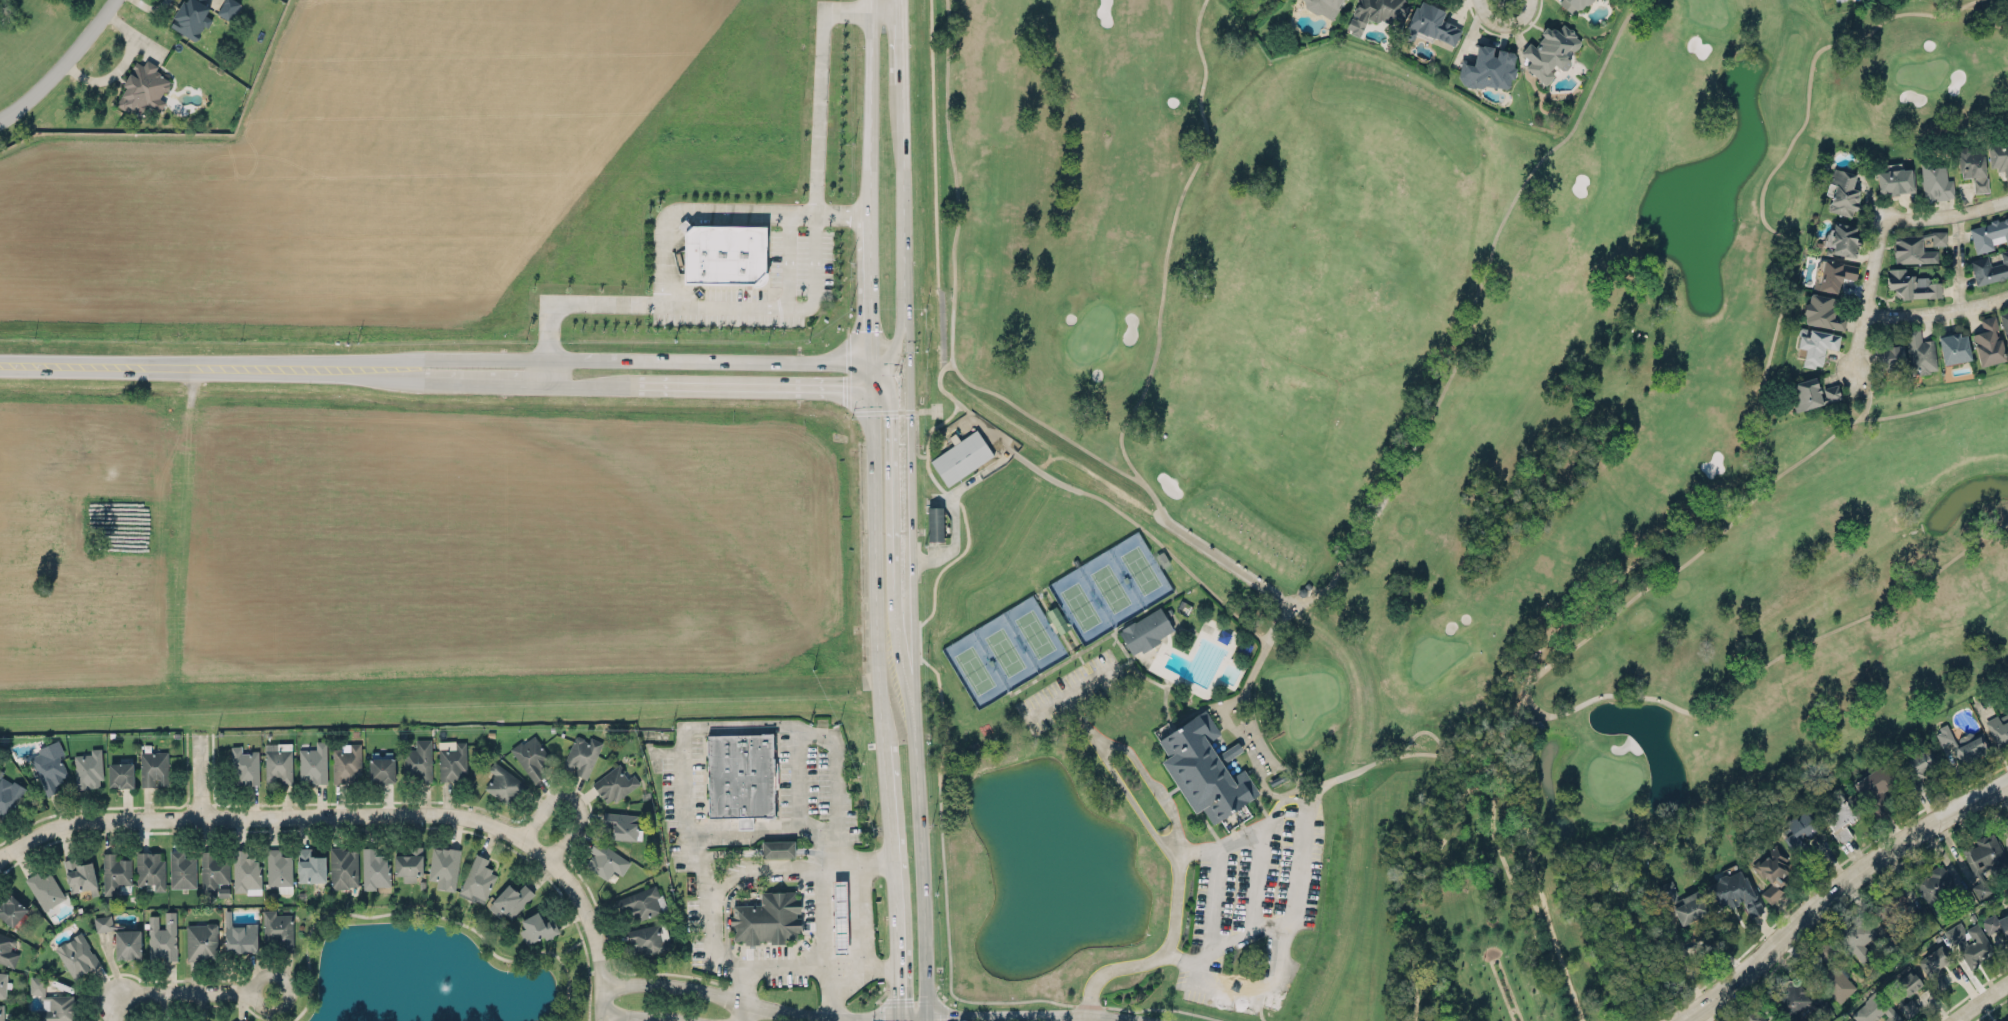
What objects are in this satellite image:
building: (203, 0)
road: (882, 3)
building: (1574, 4)
building: (1323, 7)
building: (227, 8)
building: (1377, 13)
building: (191, 18)
road: (1504, 24)
building: (1432, 25)
road: (902, 34)
building: (1549, 51)
road: (61, 65)
building: (1488, 69)
building: (144, 88)
road: (819, 93)
road: (869, 108)
building: (1998, 156)
building: (1972, 166)
building: (1895, 179)
road: (955, 181)
building: (1935, 181)
road: (903, 190)
building: (1841, 192)
road: (1983, 206)
road: (685, 214)
road: (871, 233)
building: (1988, 234)
building: (1842, 239)
road: (1167, 243)
building: (1916, 247)
building: (722, 253)
road: (1874, 255)
parking lot: (800, 260)
road: (1957, 260)
building: (1989, 269)
road: (815, 272)
building: (1834, 276)
building: (1911, 285)
road: (720, 305)
road: (1936, 311)
building: (1822, 312)
road: (871, 313)
road: (905, 322)
road: (901, 323)
road: (1775, 325)
building: (2005, 326)
traffic signals: (872, 330)
building: (1989, 343)
building: (1816, 345)
building: (1953, 347)
building: (1919, 352)
building: (1888, 356)
road: (585, 357)
road: (891, 358)
road: (752, 360)
road: (272, 367)
road: (589, 386)
road: (757, 389)
traffic signals: (842, 391)
building: (1812, 393)
road: (1909, 410)
road: (1431, 411)
traffic signals: (909, 416)
traffic signals: (889, 417)
road: (1065, 436)
building: (961, 457)
park: (1404, 479)
road: (910, 510)
road: (891, 513)
building: (934, 523)
road: (873, 559)
park: (1140, 569)
park: (1109, 587)
park: (1080, 605)
building: (1057, 619)
building: (1145, 630)
park: (1034, 633)
park: (1004, 651)
park: (973, 669)
road: (906, 673)
road: (1072, 691)
road: (1577, 704)
building: (1526, 719)
road: (737, 724)
building: (1999, 728)
building: (1961, 745)
building: (581, 753)
road: (1404, 754)
building: (530, 757)
building: (418, 759)
building: (452, 761)
building: (278, 762)
building: (313, 762)
building: (346, 762)
building: (245, 764)
building: (49, 765)
building: (153, 766)
road: (836, 766)
building: (1918, 766)
building: (1200, 767)
building: (381, 768)
building: (88, 769)
building: (120, 774)
road: (203, 775)
building: (740, 776)
road: (1117, 776)
building: (504, 783)
building: (614, 784)
road: (1151, 784)
building: (1874, 785)
road: (1470, 788)
building: (9, 795)
road: (571, 801)
road: (1297, 810)
building: (1842, 815)
road: (273, 816)
building: (2006, 821)
building: (621, 822)
building: (1798, 825)
road: (752, 832)
building: (777, 848)
road: (942, 849)
road: (919, 854)
road: (1530, 858)
building: (1983, 859)
building: (605, 860)
building: (408, 863)
building: (310, 866)
building: (343, 867)
building: (443, 867)
building: (213, 869)
building: (374, 869)
building: (150, 870)
building: (181, 870)
building: (279, 870)
building: (246, 872)
building: (115, 873)
building: (1773, 873)
building: (79, 875)
road: (738, 875)
building: (478, 876)
road: (893, 881)
road: (1258, 881)
road: (1816, 882)
building: (44, 887)
road: (1836, 890)
building: (1734, 891)
building: (1942, 892)
building: (510, 898)
park: (1460, 899)
building: (1693, 900)
building: (640, 901)
road: (1210, 903)
building: (11, 907)
building: (1899, 908)
road: (425, 913)
road: (821, 915)
gas station: (839, 916)
building: (840, 916)
road: (860, 916)
building: (767, 918)
building: (102, 923)
building: (1996, 924)
building: (537, 925)
building: (278, 928)
road: (592, 931)
building: (162, 935)
building: (240, 937)
building: (648, 939)
building: (128, 940)
building: (201, 941)
building: (1969, 943)
road: (574, 944)
building: (7, 949)
road: (1492, 951)
building: (78, 954)
road: (1158, 955)
road: (819, 963)
building: (1935, 964)
road: (1273, 970)
building: (1834, 975)
building: (2, 984)
building: (1905, 989)
road: (196, 990)
road: (828, 991)
traffic signals: (896, 996)
road: (1978, 1000)
building: (53, 1002)
building: (1791, 1002)
road: (269, 1005)
road: (763, 1006)
road: (113, 1007)
road: (1513, 1008)
building: (1874, 1009)
road: (741, 1011)
building: (1, 1012)
building: (1754, 1015)
road: (645, 1017)
traffic signals: (949, 1019)
road: (561, 1020)
road: (925, 1020)
road: (1008, 1020)
building: (2006, 1020)

